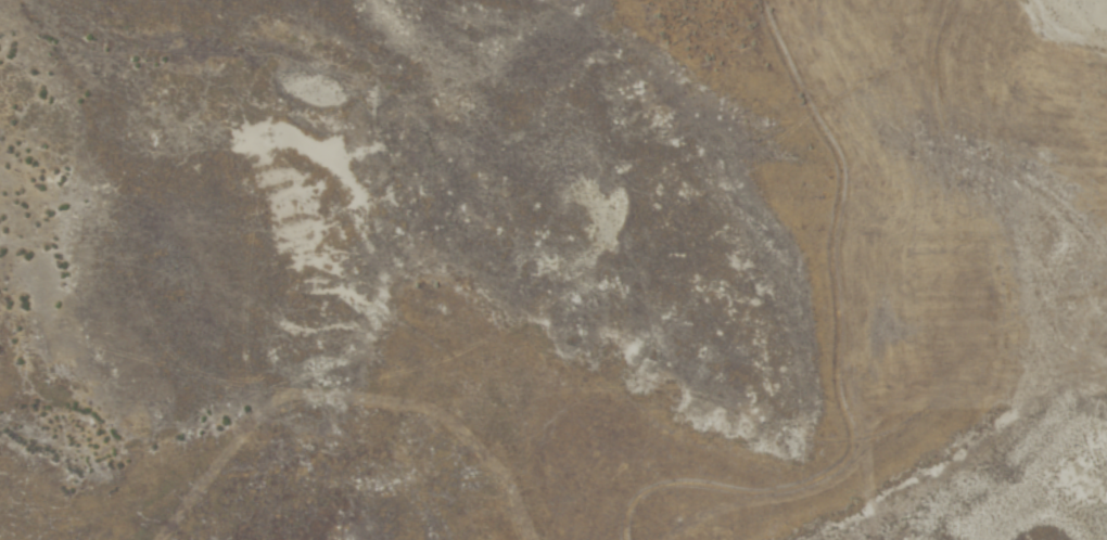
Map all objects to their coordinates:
crop: (553, 270)
stadium: (1082, 314)

